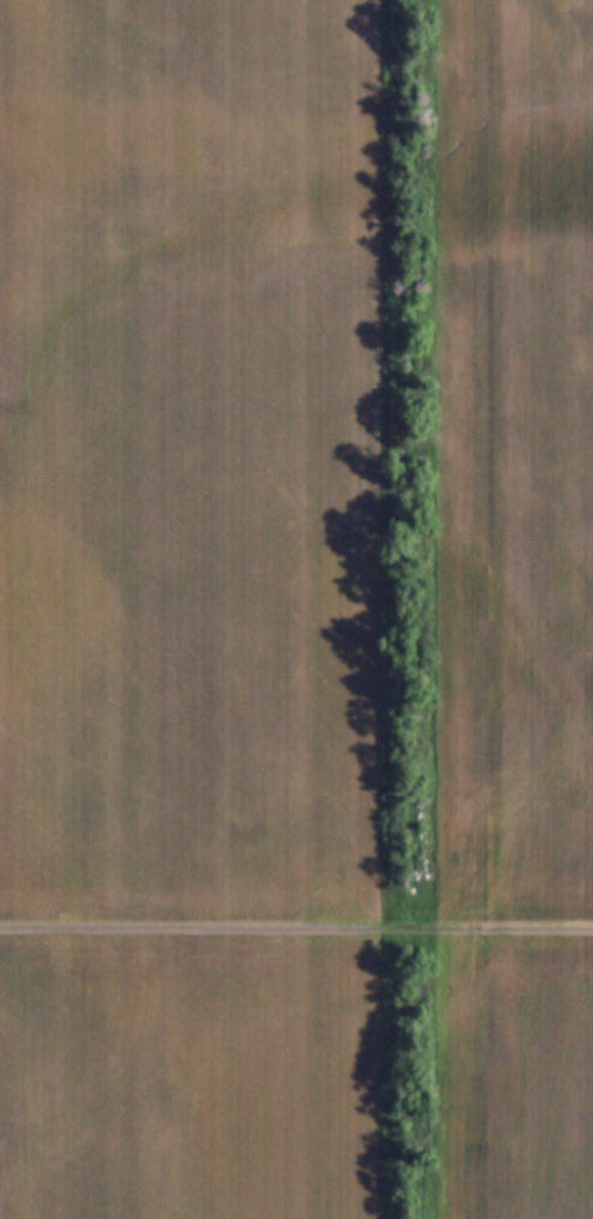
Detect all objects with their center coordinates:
road: (296, 928)

